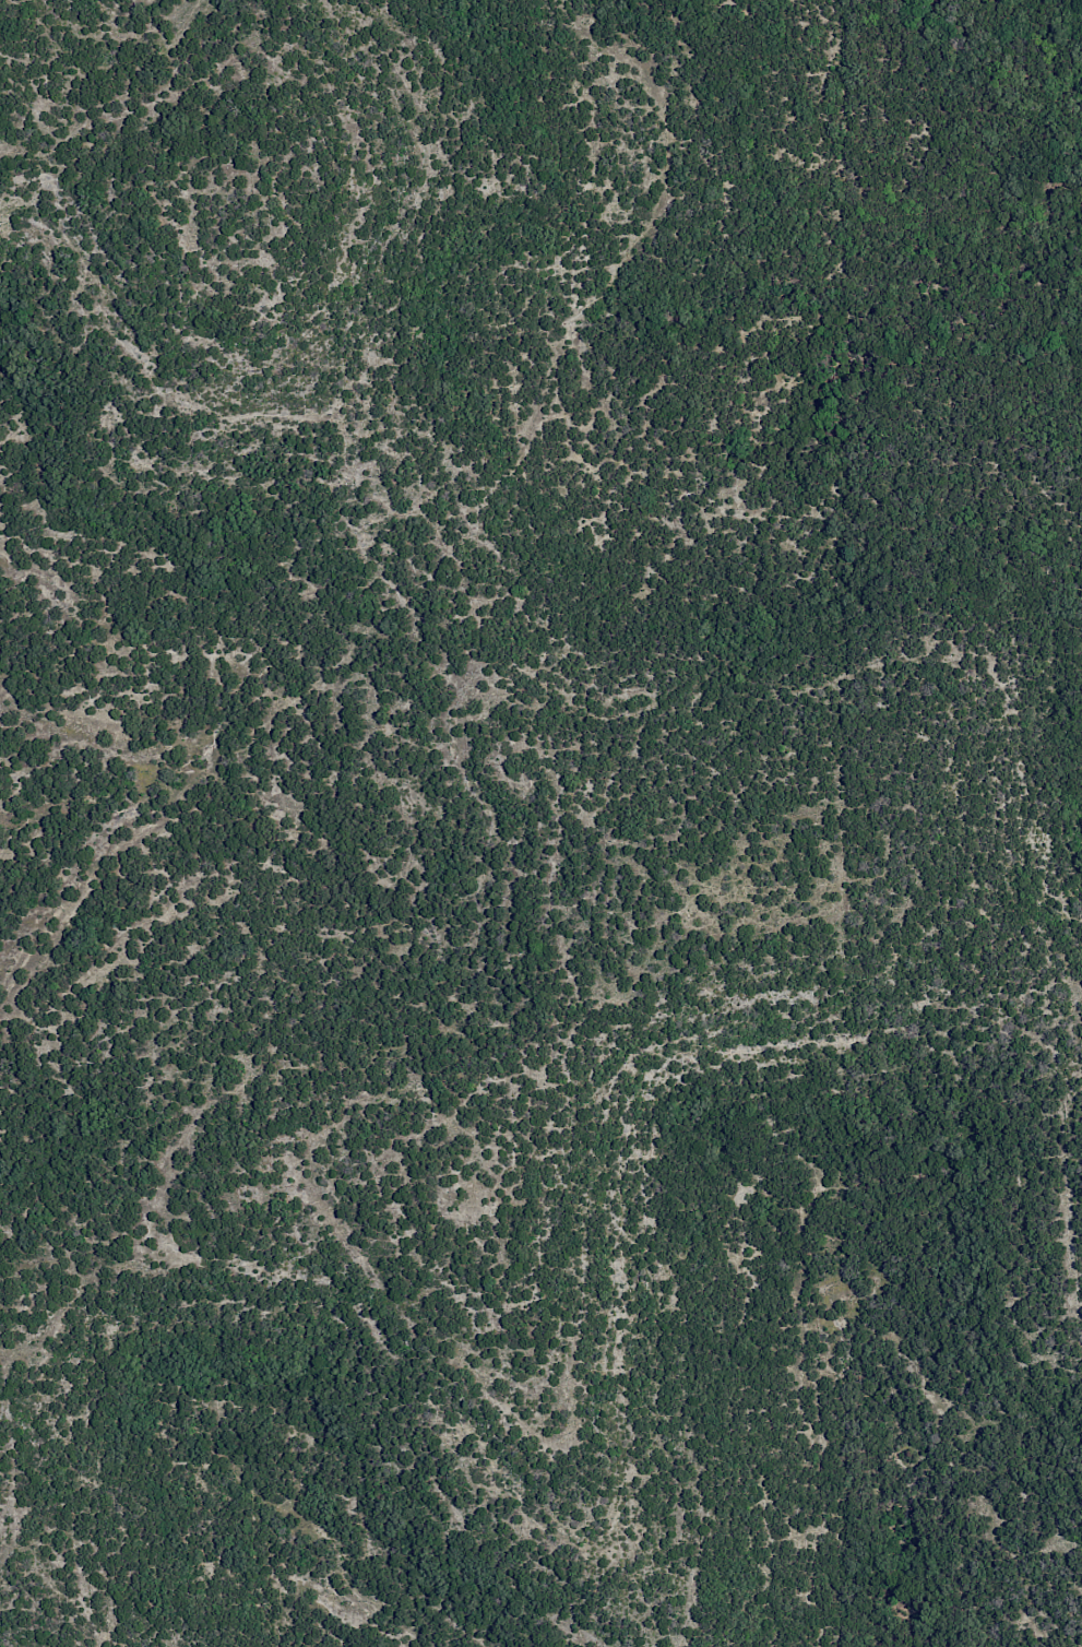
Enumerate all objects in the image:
park: (1065, 149)

